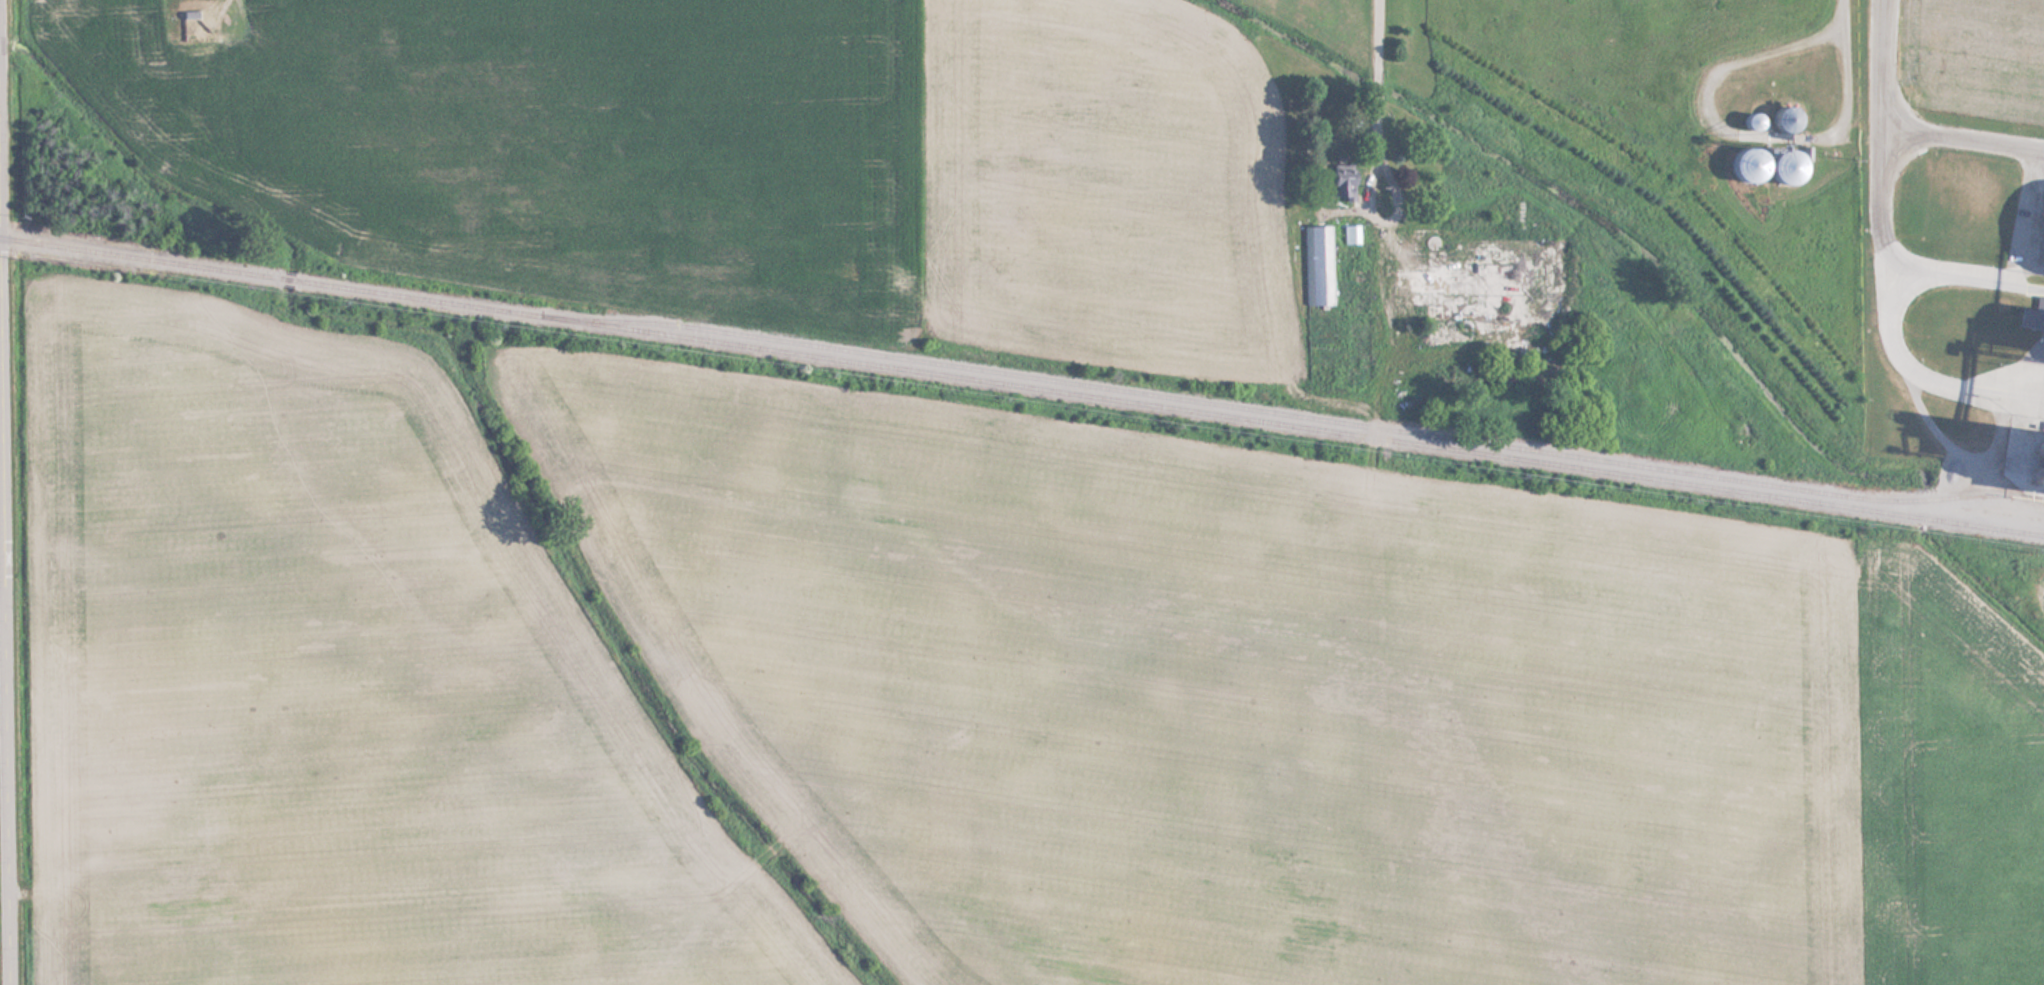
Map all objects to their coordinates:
building: (193, 17)
road: (1, 119)
building: (1753, 120)
building: (1789, 120)
building: (1769, 164)
building: (1344, 184)
building: (1318, 265)
building: (2033, 315)
building: (1497, 317)
railway: (1022, 385)
railway: (1290, 415)
road: (1, 727)

